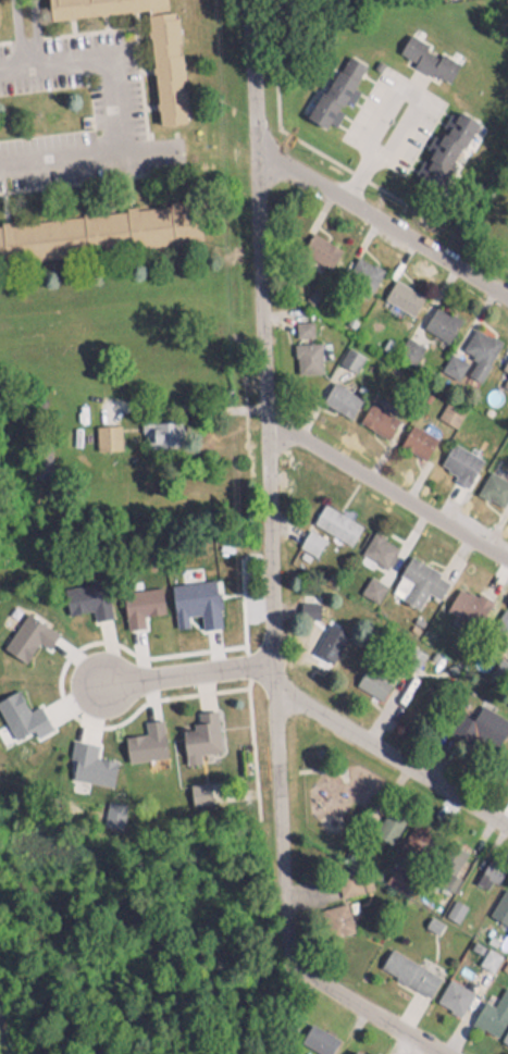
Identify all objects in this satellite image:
building: (89, 4)
road: (21, 37)
building: (425, 52)
building: (163, 62)
building: (333, 85)
road: (392, 96)
road: (110, 114)
building: (446, 140)
road: (382, 224)
building: (318, 244)
building: (362, 266)
building: (401, 290)
building: (439, 315)
building: (504, 361)
building: (338, 393)
building: (375, 413)
building: (416, 434)
building: (457, 457)
road: (265, 478)
building: (494, 485)
road: (386, 500)
building: (326, 523)
building: (377, 540)
building: (416, 576)
building: (307, 598)
building: (467, 598)
building: (498, 630)
building: (317, 632)
building: (387, 668)
road: (185, 674)
building: (470, 719)
building: (199, 731)
building: (87, 758)
road: (391, 758)
building: (505, 765)
building: (487, 866)
building: (395, 872)
building: (499, 902)
building: (336, 914)
building: (407, 966)
building: (451, 991)
road: (350, 1007)
building: (492, 1007)
building: (505, 1031)
building: (315, 1032)
building: (356, 1050)

